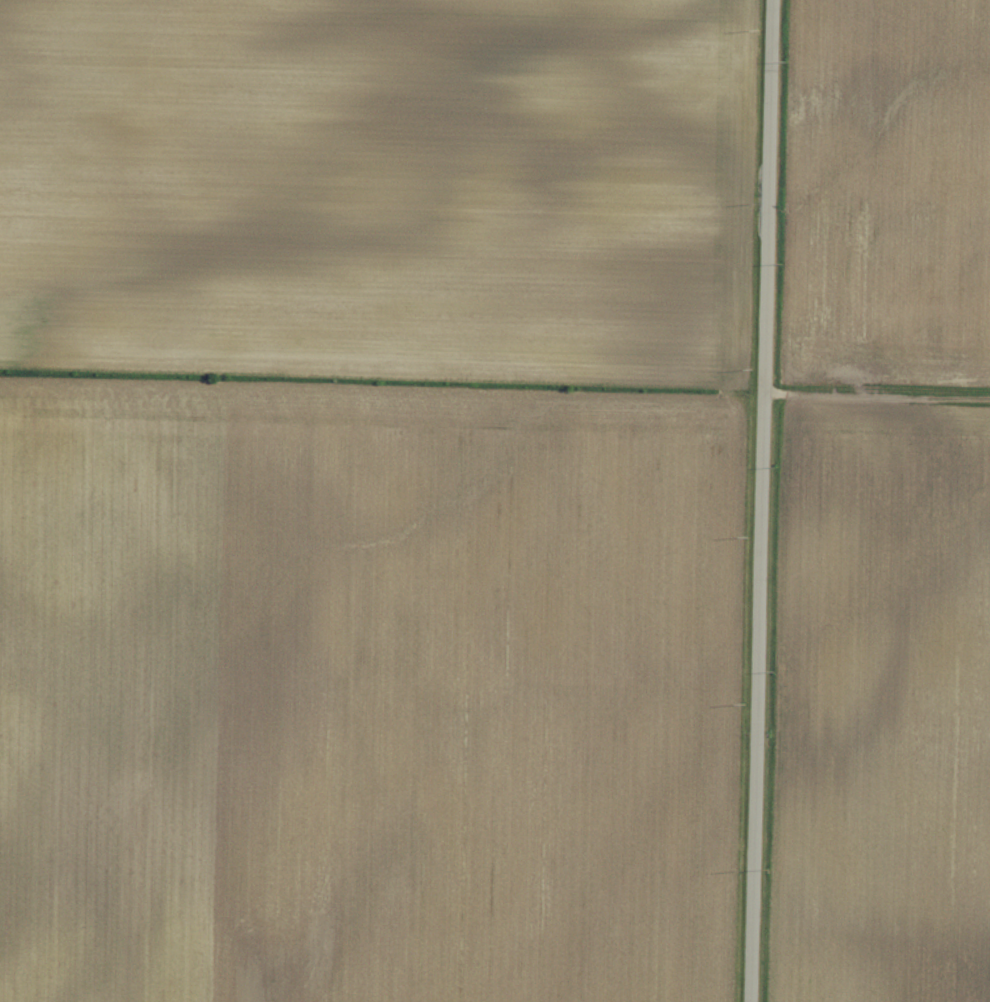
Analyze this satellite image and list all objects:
road: (759, 501)

